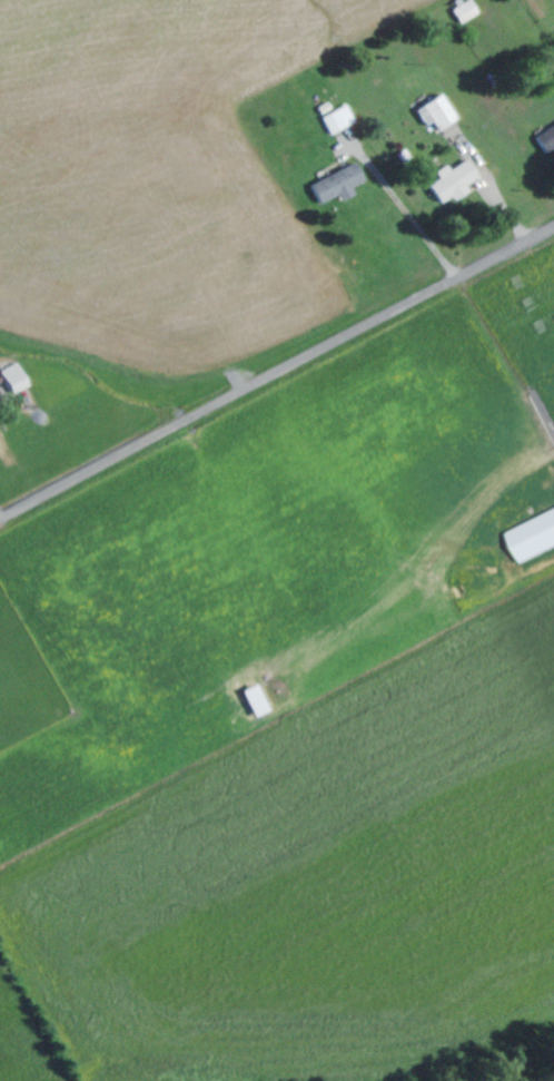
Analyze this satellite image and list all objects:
building: (468, 10)
building: (441, 114)
building: (343, 120)
building: (548, 138)
building: (343, 184)
road: (276, 375)
building: (19, 379)
building: (537, 539)

